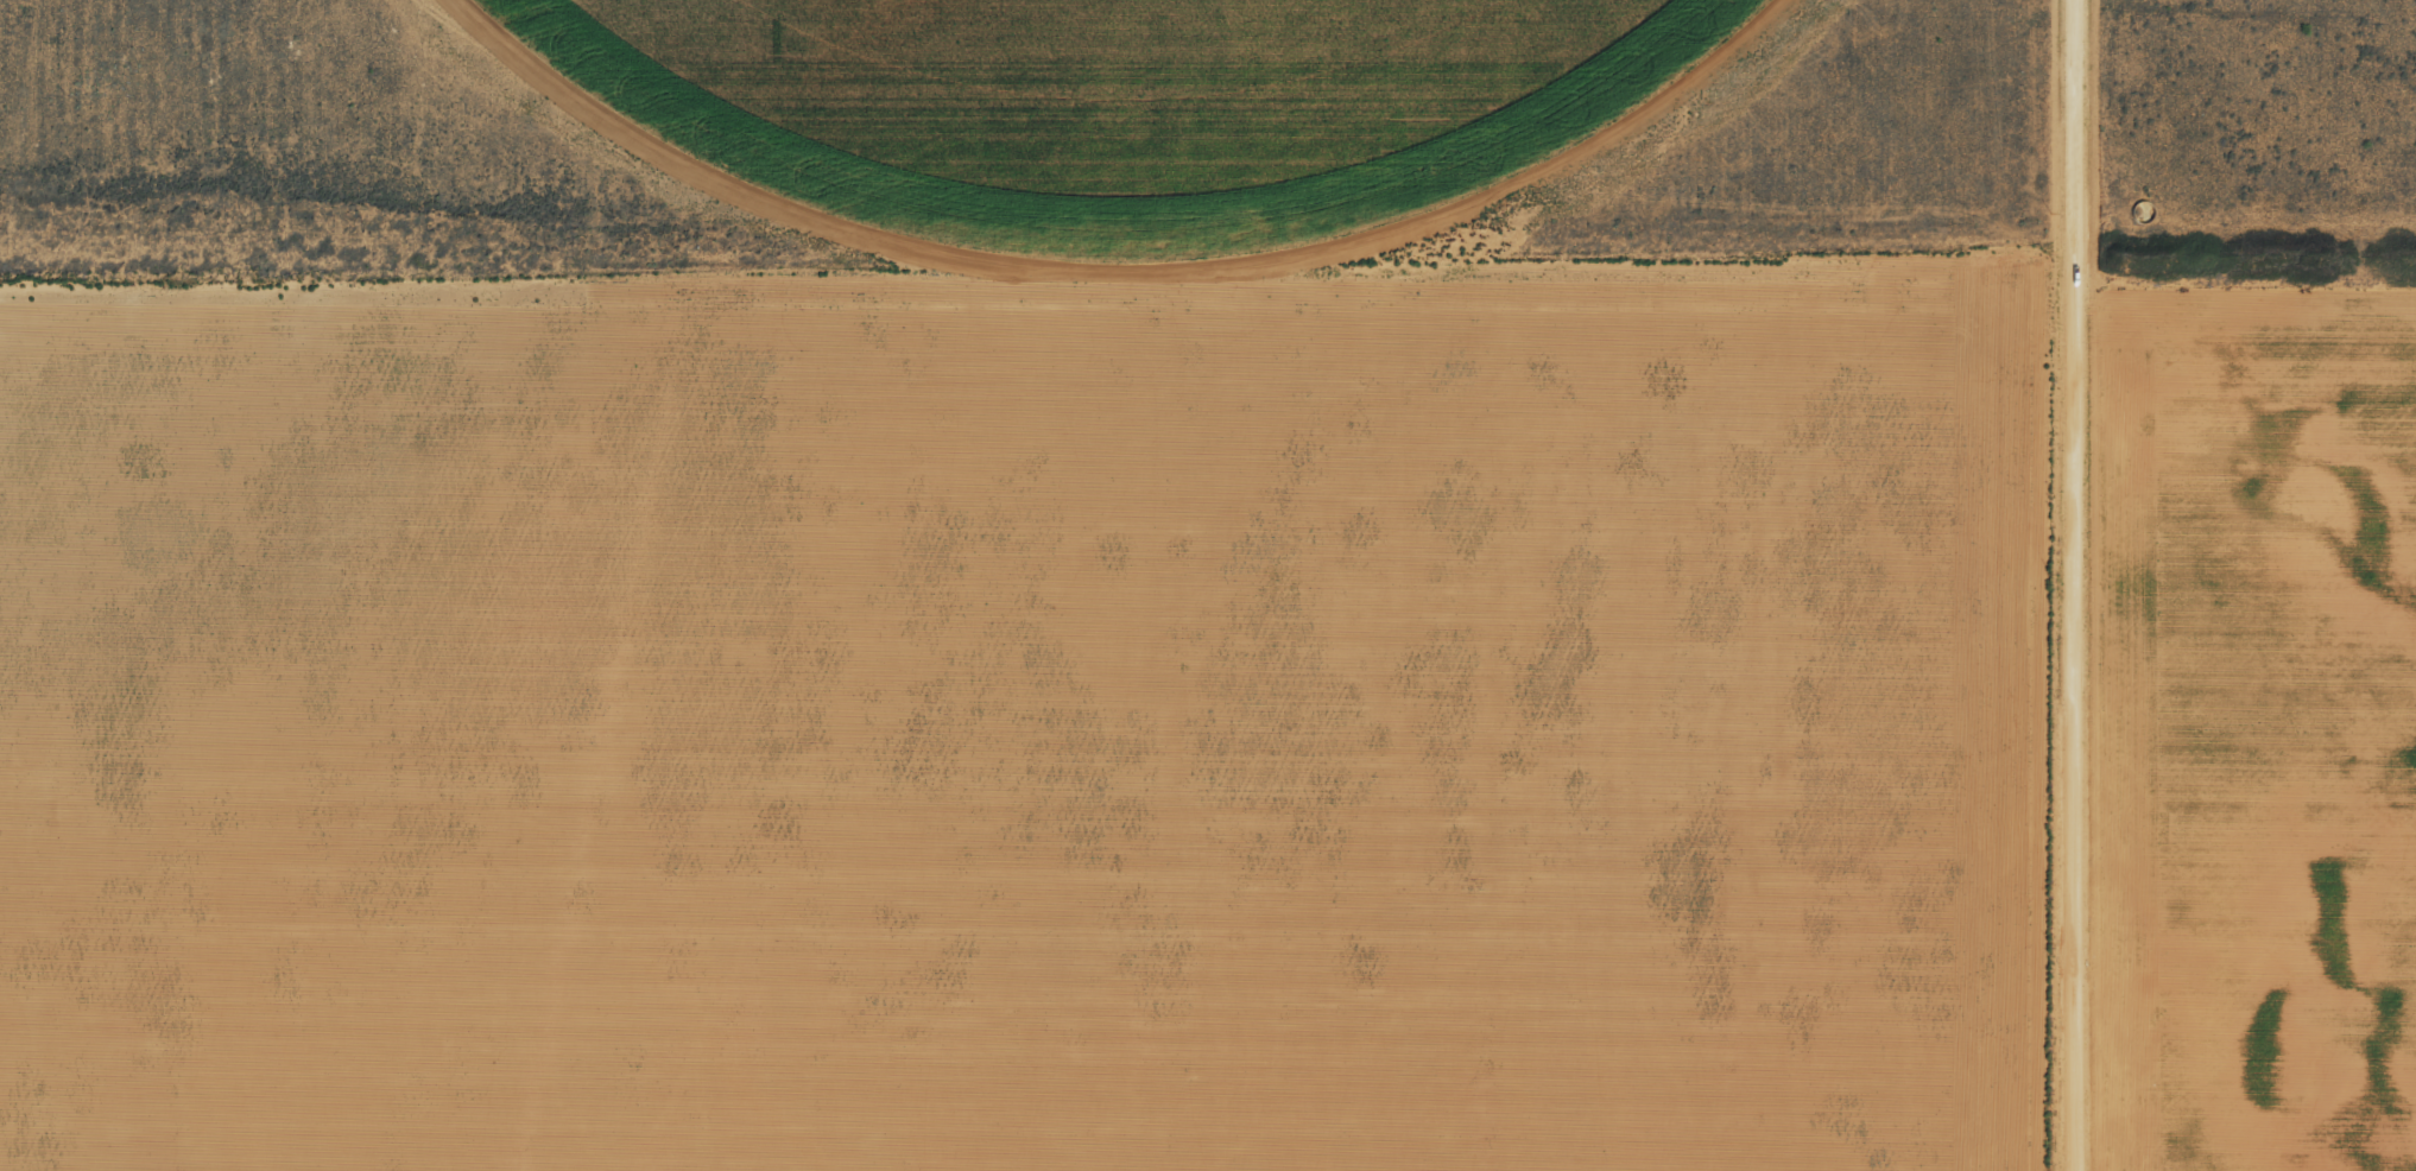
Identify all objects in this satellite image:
road: (2087, 585)

